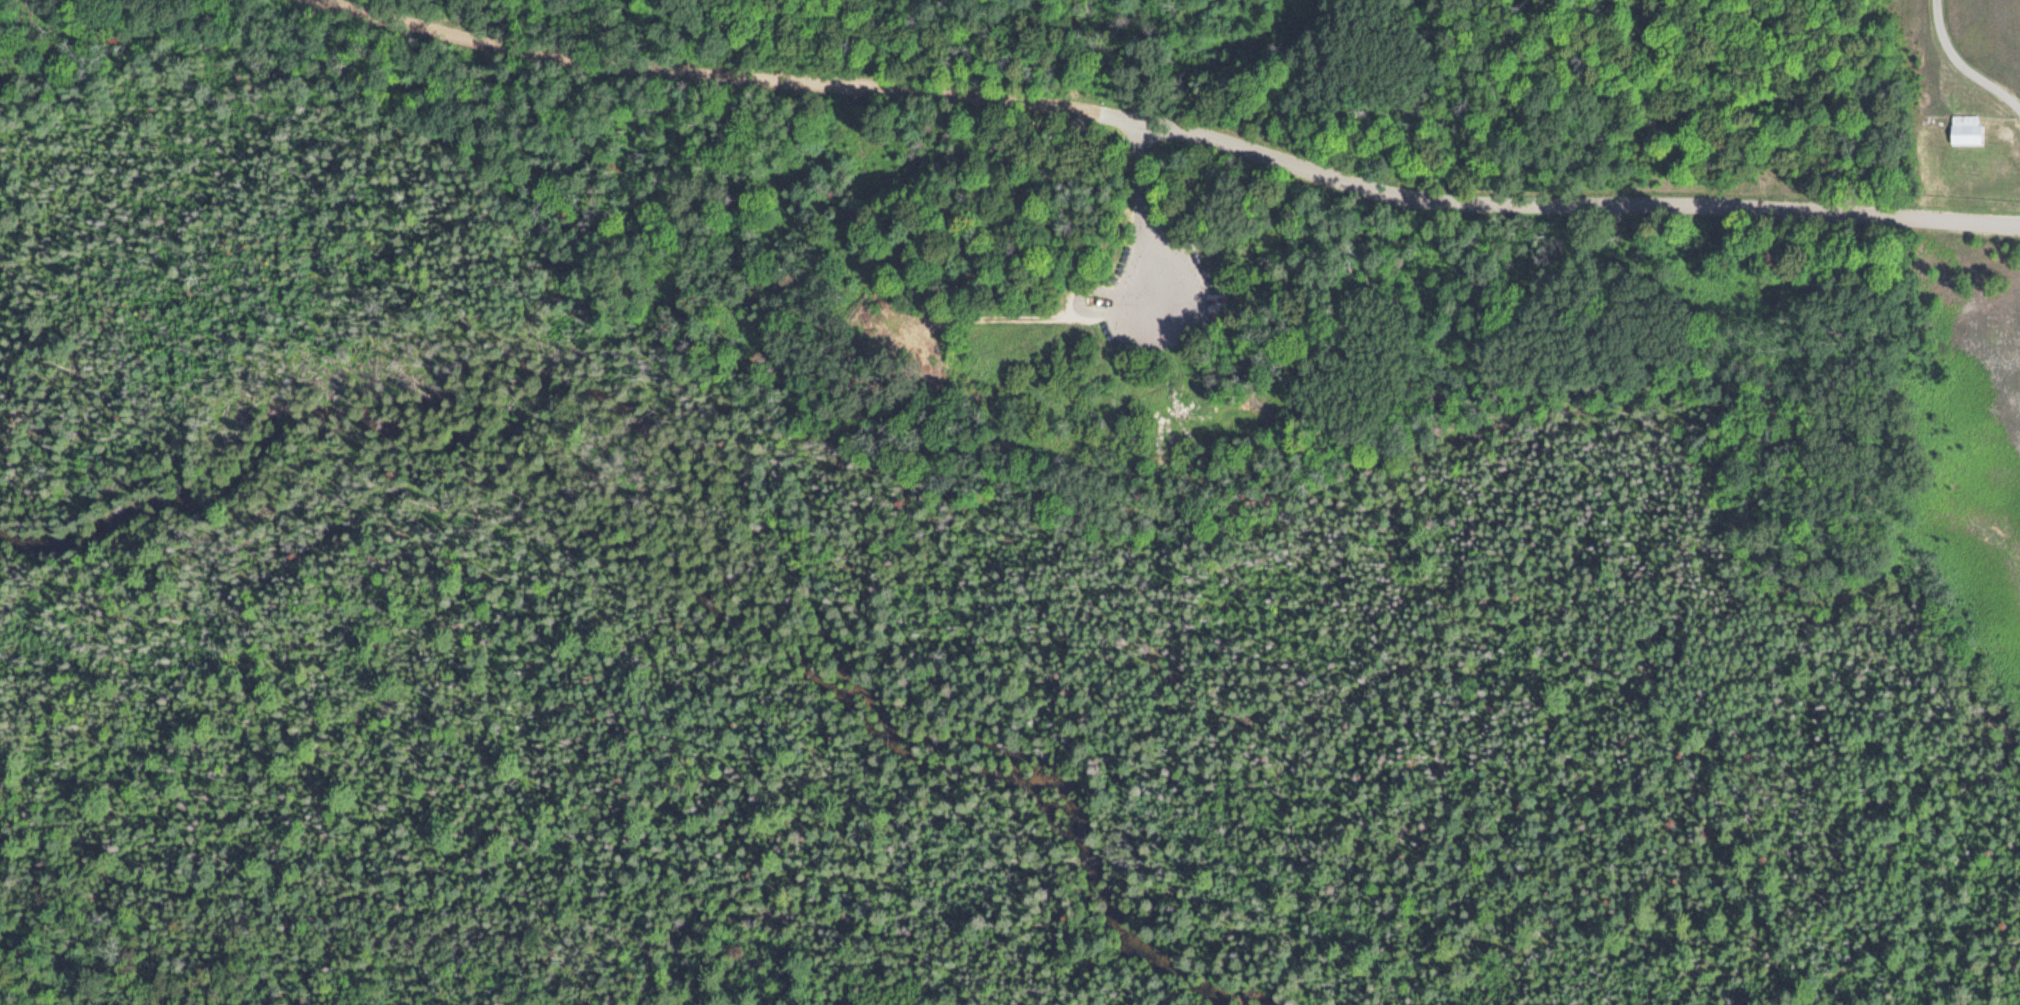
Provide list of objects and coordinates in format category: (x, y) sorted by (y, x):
road: (1949, 89)
road: (1170, 123)
building: (1965, 132)
river: (649, 549)
river: (1255, 981)
river: (1212, 996)

